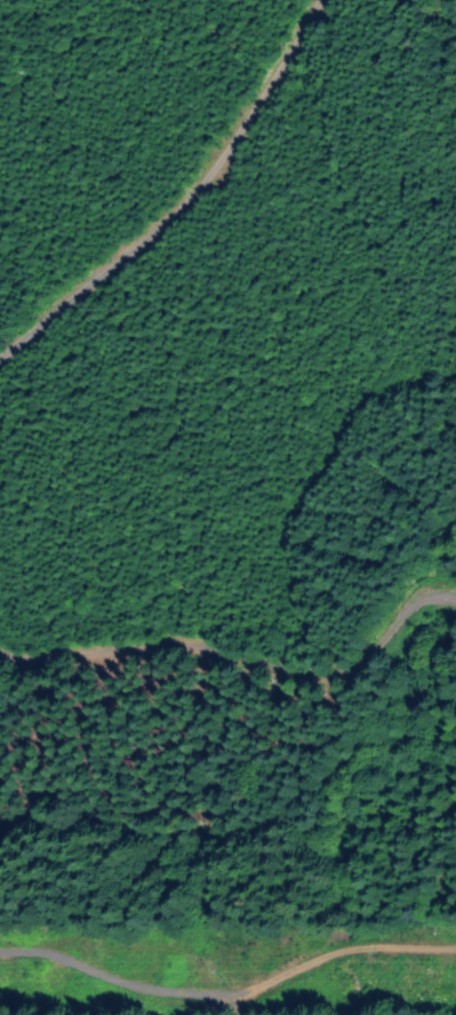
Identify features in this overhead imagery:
road: (191, 203)
road: (228, 644)

